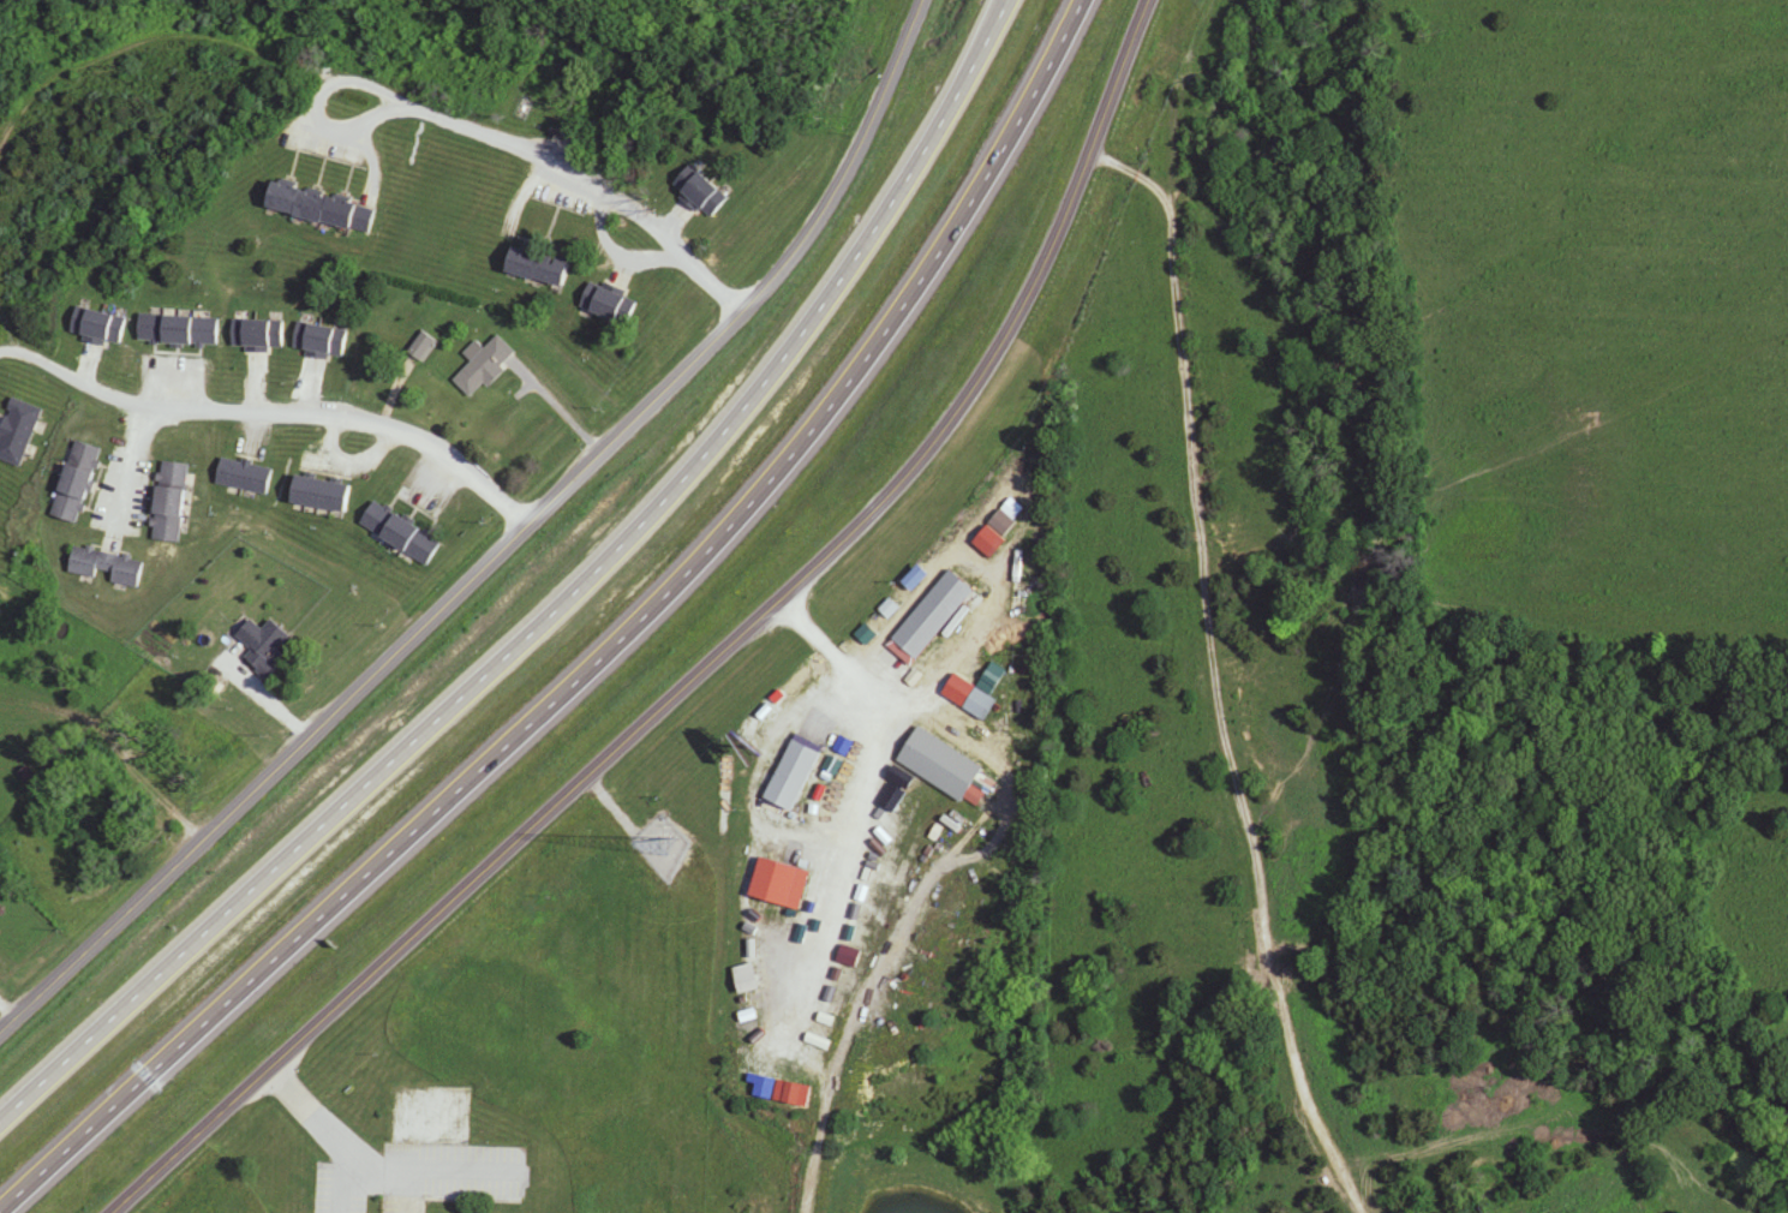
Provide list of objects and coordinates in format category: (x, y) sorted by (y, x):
road: (316, 102)
road: (586, 179)
building: (704, 192)
building: (323, 208)
building: (543, 268)
building: (610, 305)
building: (98, 327)
building: (179, 331)
building: (258, 335)
building: (321, 341)
building: (424, 347)
building: (486, 366)
road: (265, 414)
building: (18, 432)
road: (128, 471)
building: (245, 476)
building: (78, 483)
building: (323, 494)
building: (172, 502)
building: (402, 532)
building: (993, 532)
road: (504, 549)
building: (108, 566)
building: (919, 576)
road: (558, 606)
road: (903, 610)
building: (933, 619)
building: (267, 641)
road: (604, 658)
road: (705, 663)
road: (1215, 674)
building: (943, 765)
building: (795, 773)
road: (851, 818)
building: (96, 831)
building: (782, 883)
road: (372, 1166)

